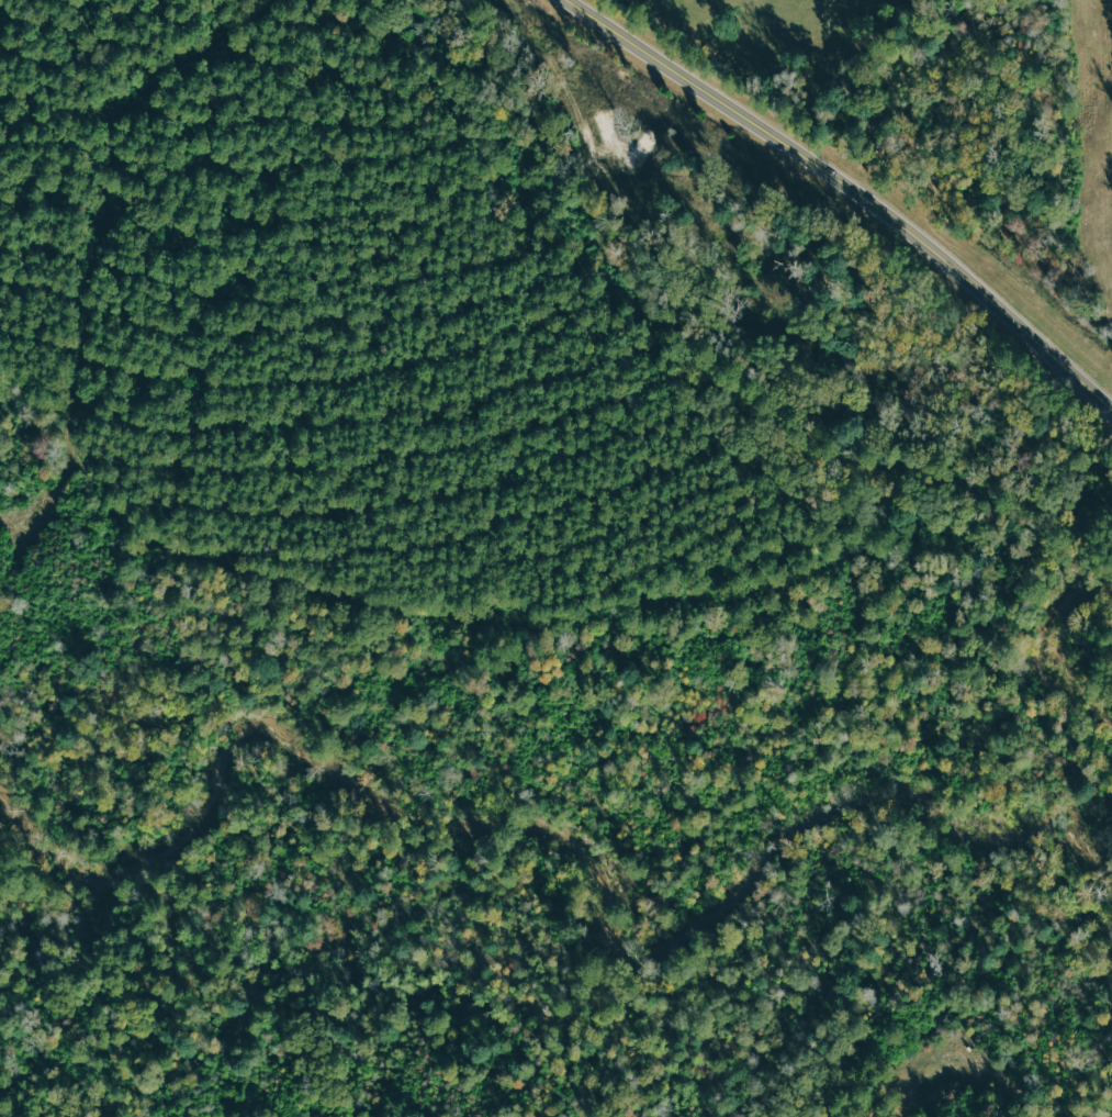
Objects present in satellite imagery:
road: (849, 191)

